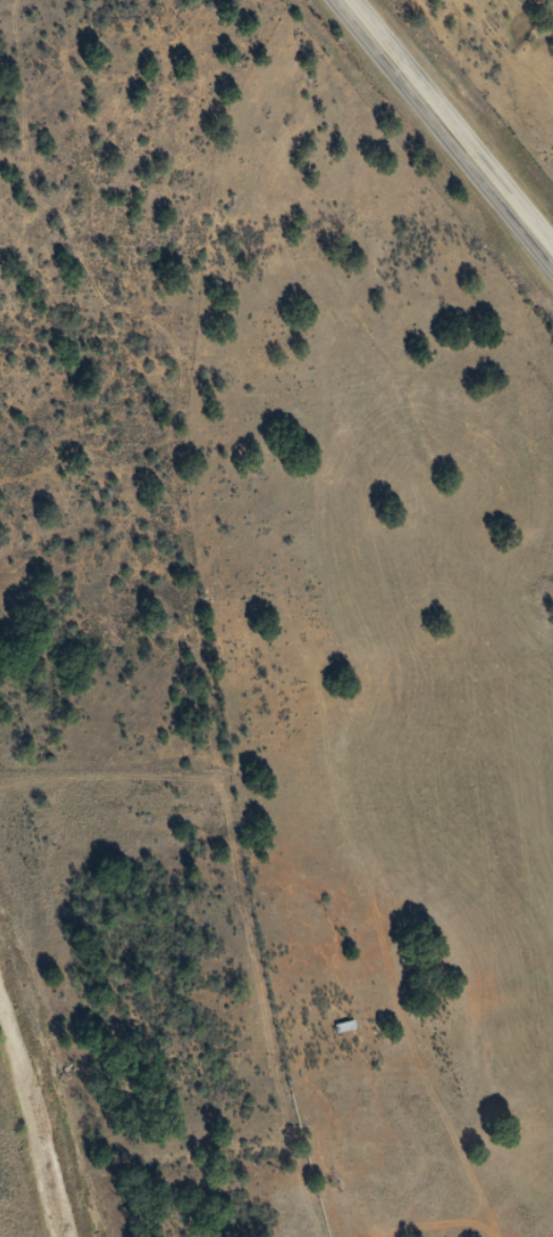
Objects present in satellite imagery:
road: (450, 125)
road: (241, 813)

